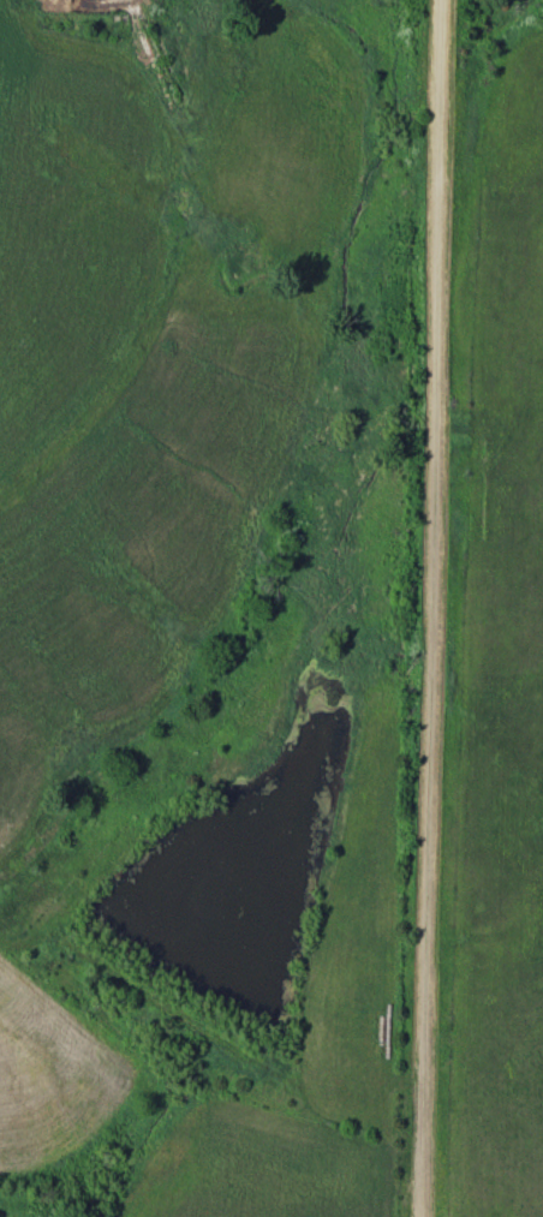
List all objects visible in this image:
road: (436, 608)

